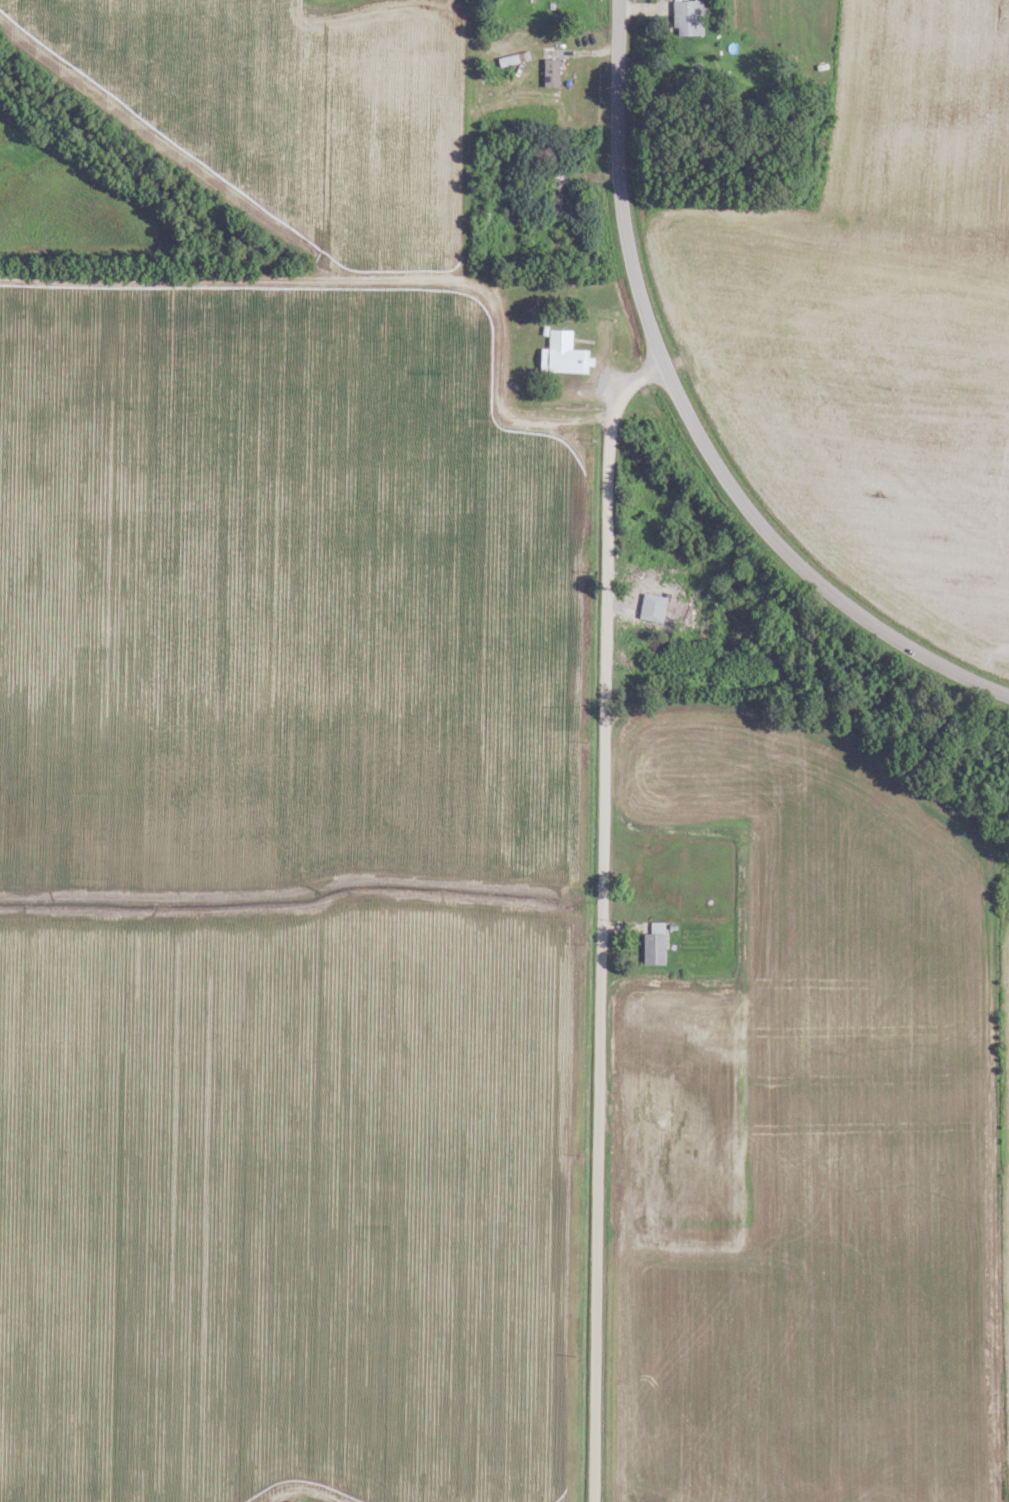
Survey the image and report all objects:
building: (686, 17)
building: (557, 191)
road: (363, 281)
building: (560, 356)
road: (690, 419)
building: (653, 607)
road: (603, 919)
building: (655, 943)
building: (655, 1098)
building: (684, 1120)

